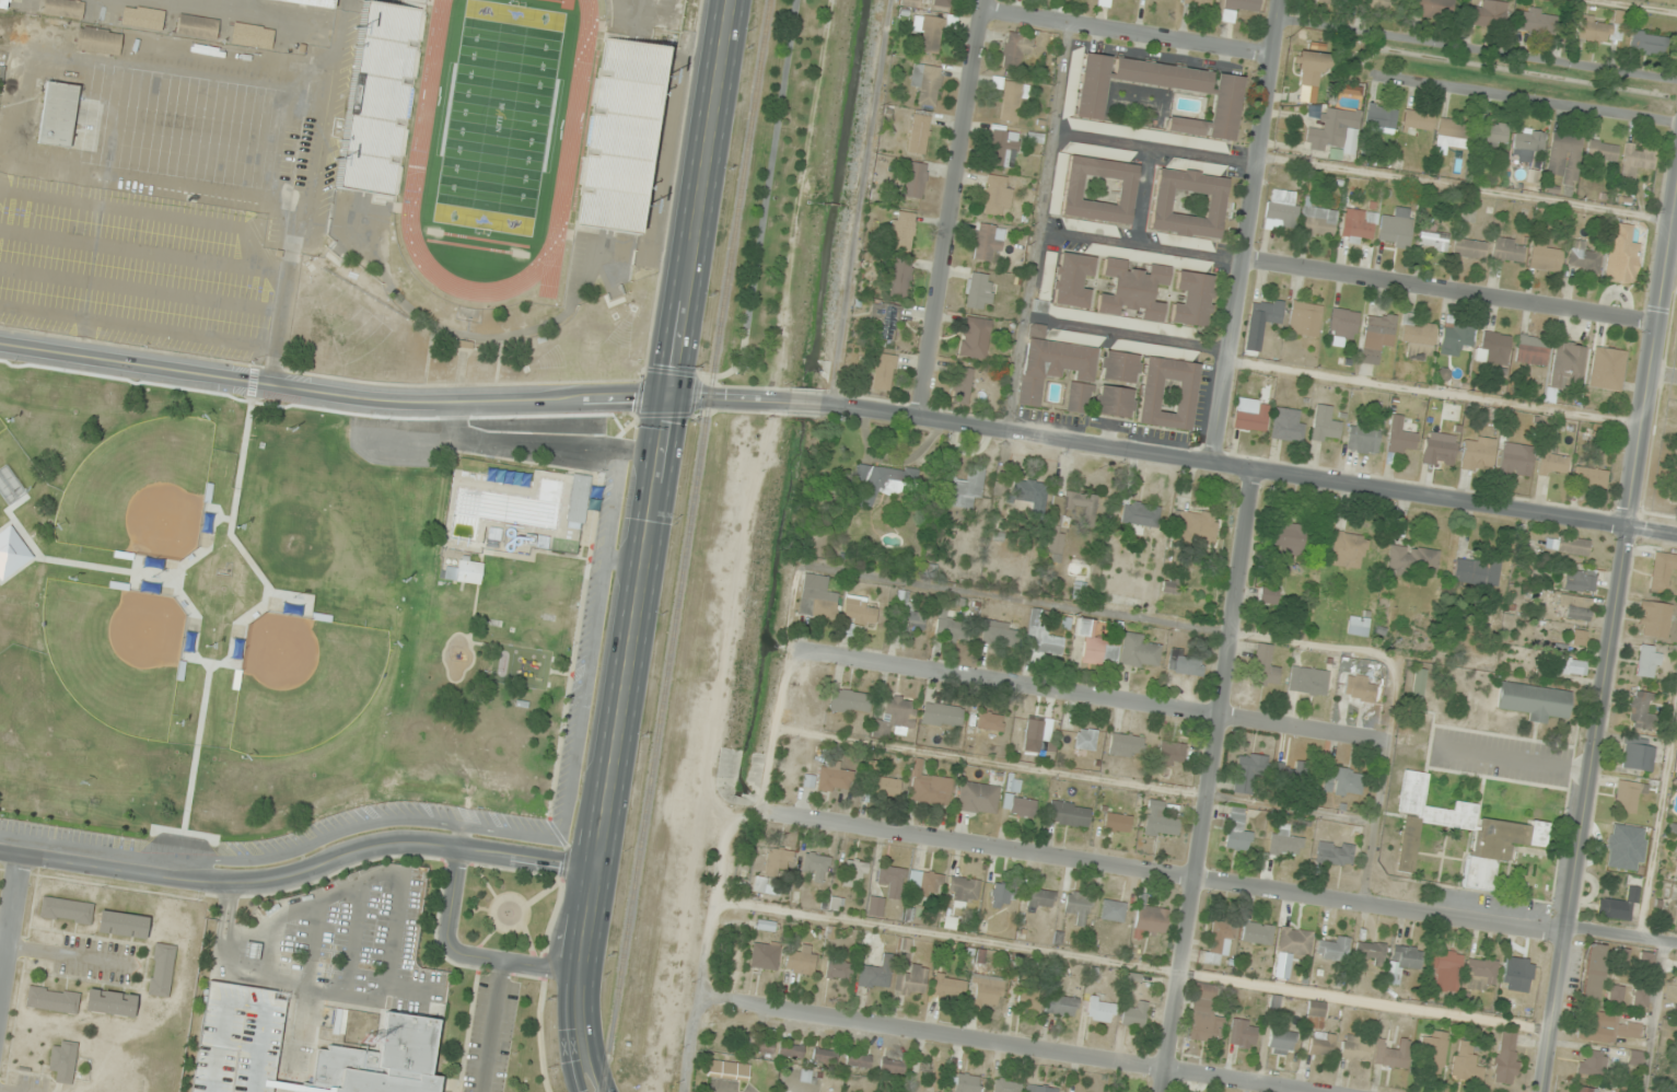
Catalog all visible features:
building: (1171, 0)
building: (1323, 1)
building: (317, 2)
building: (1103, 2)
building: (1198, 2)
building: (4, 3)
building: (941, 3)
building: (1378, 4)
building: (63, 8)
building: (1238, 8)
building: (1432, 8)
building: (1488, 13)
building: (159, 21)
building: (1538, 21)
building: (197, 25)
building: (1602, 28)
building: (934, 31)
road: (1128, 34)
building: (98, 40)
building: (1646, 43)
building: (1015, 49)
building: (1312, 68)
building: (927, 83)
building: (1348, 90)
building: (379, 95)
building: (1010, 98)
road: (1529, 98)
building: (1225, 105)
building: (58, 114)
park: (498, 116)
track: (572, 116)
building: (1381, 118)
building: (1418, 121)
park: (183, 125)
building: (619, 131)
road: (308, 132)
building: (1335, 132)
building: (1453, 132)
building: (919, 133)
building: (1492, 135)
building: (1529, 141)
building: (1002, 147)
building: (1600, 154)
building: (1565, 156)
building: (1637, 161)
building: (913, 177)
building: (1098, 190)
building: (995, 195)
road: (765, 198)
building: (1188, 205)
road: (951, 207)
road: (143, 209)
building: (1281, 210)
building: (1318, 221)
building: (1358, 225)
building: (1396, 229)
road: (1248, 230)
building: (902, 231)
building: (1433, 240)
building: (987, 241)
building: (1469, 248)
building: (1509, 249)
building: (1621, 255)
building: (1545, 256)
building: (1584, 257)
road: (199, 259)
building: (898, 276)
building: (1073, 282)
road: (140, 290)
road: (1449, 290)
building: (978, 291)
building: (1132, 291)
building: (1193, 301)
building: (1266, 311)
building: (886, 318)
building: (1304, 318)
building: (1343, 323)
road: (138, 326)
building: (1376, 336)
building: (975, 337)
building: (1455, 337)
building: (1418, 338)
building: (1493, 348)
building: (1532, 350)
road: (1650, 351)
building: (1568, 367)
building: (1119, 369)
building: (1607, 369)
building: (883, 372)
building: (1058, 373)
building: (962, 385)
building: (1168, 394)
traffic signals: (673, 398)
road: (805, 400)
road: (393, 402)
building: (1115, 404)
building: (1254, 414)
park: (1, 421)
building: (1325, 425)
building: (1288, 426)
building: (1362, 437)
building: (1439, 450)
building: (1477, 453)
building: (1516, 460)
building: (1552, 463)
road: (1248, 467)
building: (1589, 477)
building: (883, 481)
park: (137, 486)
building: (963, 489)
building: (1026, 496)
building: (579, 498)
building: (1140, 513)
building: (1069, 514)
building: (1193, 522)
building: (1288, 539)
railway: (685, 545)
building: (1571, 545)
road: (649, 546)
building: (1348, 549)
building: (1412, 559)
building: (1662, 569)
building: (465, 571)
building: (1477, 573)
building: (1580, 580)
building: (1171, 585)
building: (1267, 594)
building: (817, 597)
building: (1576, 607)
building: (858, 611)
building: (909, 614)
park: (254, 619)
building: (1653, 619)
building: (1358, 626)
building: (950, 628)
building: (1000, 634)
building: (1577, 637)
building: (1045, 641)
building: (1098, 642)
park: (112, 649)
building: (1139, 652)
building: (1649, 661)
building: (1186, 665)
building: (1572, 666)
building: (1263, 667)
park: (300, 678)
building: (1307, 681)
building: (1418, 685)
building: (1360, 689)
road: (1106, 698)
building: (1535, 700)
building: (850, 701)
building: (1641, 710)
building: (942, 715)
building: (895, 718)
building: (989, 721)
building: (1033, 729)
building: (1085, 739)
building: (1126, 744)
building: (1172, 753)
building: (1638, 755)
building: (1676, 767)
building: (1247, 771)
building: (1296, 775)
building: (835, 777)
road: (1209, 780)
building: (1343, 781)
building: (885, 787)
building: (931, 789)
building: (1628, 795)
building: (978, 798)
building: (1020, 806)
road: (1582, 810)
building: (1069, 814)
building: (1160, 820)
road: (1658, 821)
building: (1117, 822)
building: (1236, 830)
building: (1507, 836)
building: (1620, 841)
building: (1285, 843)
building: (1335, 852)
building: (1676, 856)
building: (778, 861)
building: (817, 867)
road: (300, 871)
building: (855, 871)
building: (892, 880)
road: (1204, 880)
building: (768, 885)
building: (923, 885)
building: (963, 890)
building: (1002, 895)
building: (1041, 898)
road: (308, 904)
building: (875, 905)
building: (1619, 906)
building: (1079, 907)
building: (67, 909)
park: (503, 909)
building: (1113, 910)
building: (1150, 920)
building: (1676, 920)
building: (123, 925)
road: (11, 926)
building: (1257, 933)
road: (352, 939)
building: (1294, 941)
building: (1219, 942)
road: (312, 946)
building: (1334, 949)
road: (710, 950)
building: (251, 951)
building: (1370, 952)
road: (464, 954)
building: (765, 955)
building: (1621, 957)
road: (230, 960)
building: (802, 960)
building: (1402, 961)
building: (1644, 963)
road: (1132, 964)
building: (838, 967)
building: (161, 969)
building: (1446, 971)
building: (1593, 972)
building: (876, 973)
building: (910, 973)
building: (1479, 973)
building: (1517, 973)
building: (986, 985)
building: (947, 986)
building: (1615, 994)
building: (1639, 998)
building: (53, 999)
building: (1028, 1000)
road: (372, 1001)
building: (110, 1002)
building: (1061, 1004)
building: (1100, 1009)
building: (1134, 1014)
building: (1315, 1014)
building: (1204, 1015)
road: (1656, 1017)
road: (220, 1025)
road: (489, 1026)
building: (1609, 1027)
building: (1243, 1033)
road: (288, 1041)
building: (1281, 1042)
building: (1321, 1044)
building: (761, 1045)
road: (1008, 1045)
building: (1356, 1048)
building: (790, 1052)
building: (1432, 1052)
building: (1389, 1055)
building: (825, 1056)
building: (1506, 1058)
building: (1635, 1058)
building: (63, 1060)
building: (380, 1060)
building: (858, 1060)
building: (1466, 1062)
building: (1592, 1062)
building: (892, 1066)
building: (727, 1070)
building: (967, 1082)
building: (1006, 1085)
building: (1040, 1089)
building: (1584, 1090)
building: (1619, 1091)

